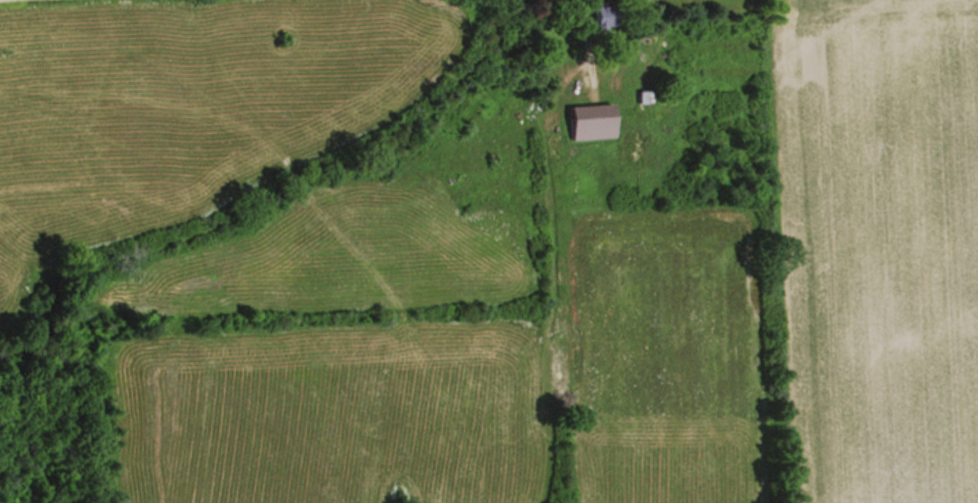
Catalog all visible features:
building: (608, 16)
building: (595, 122)

